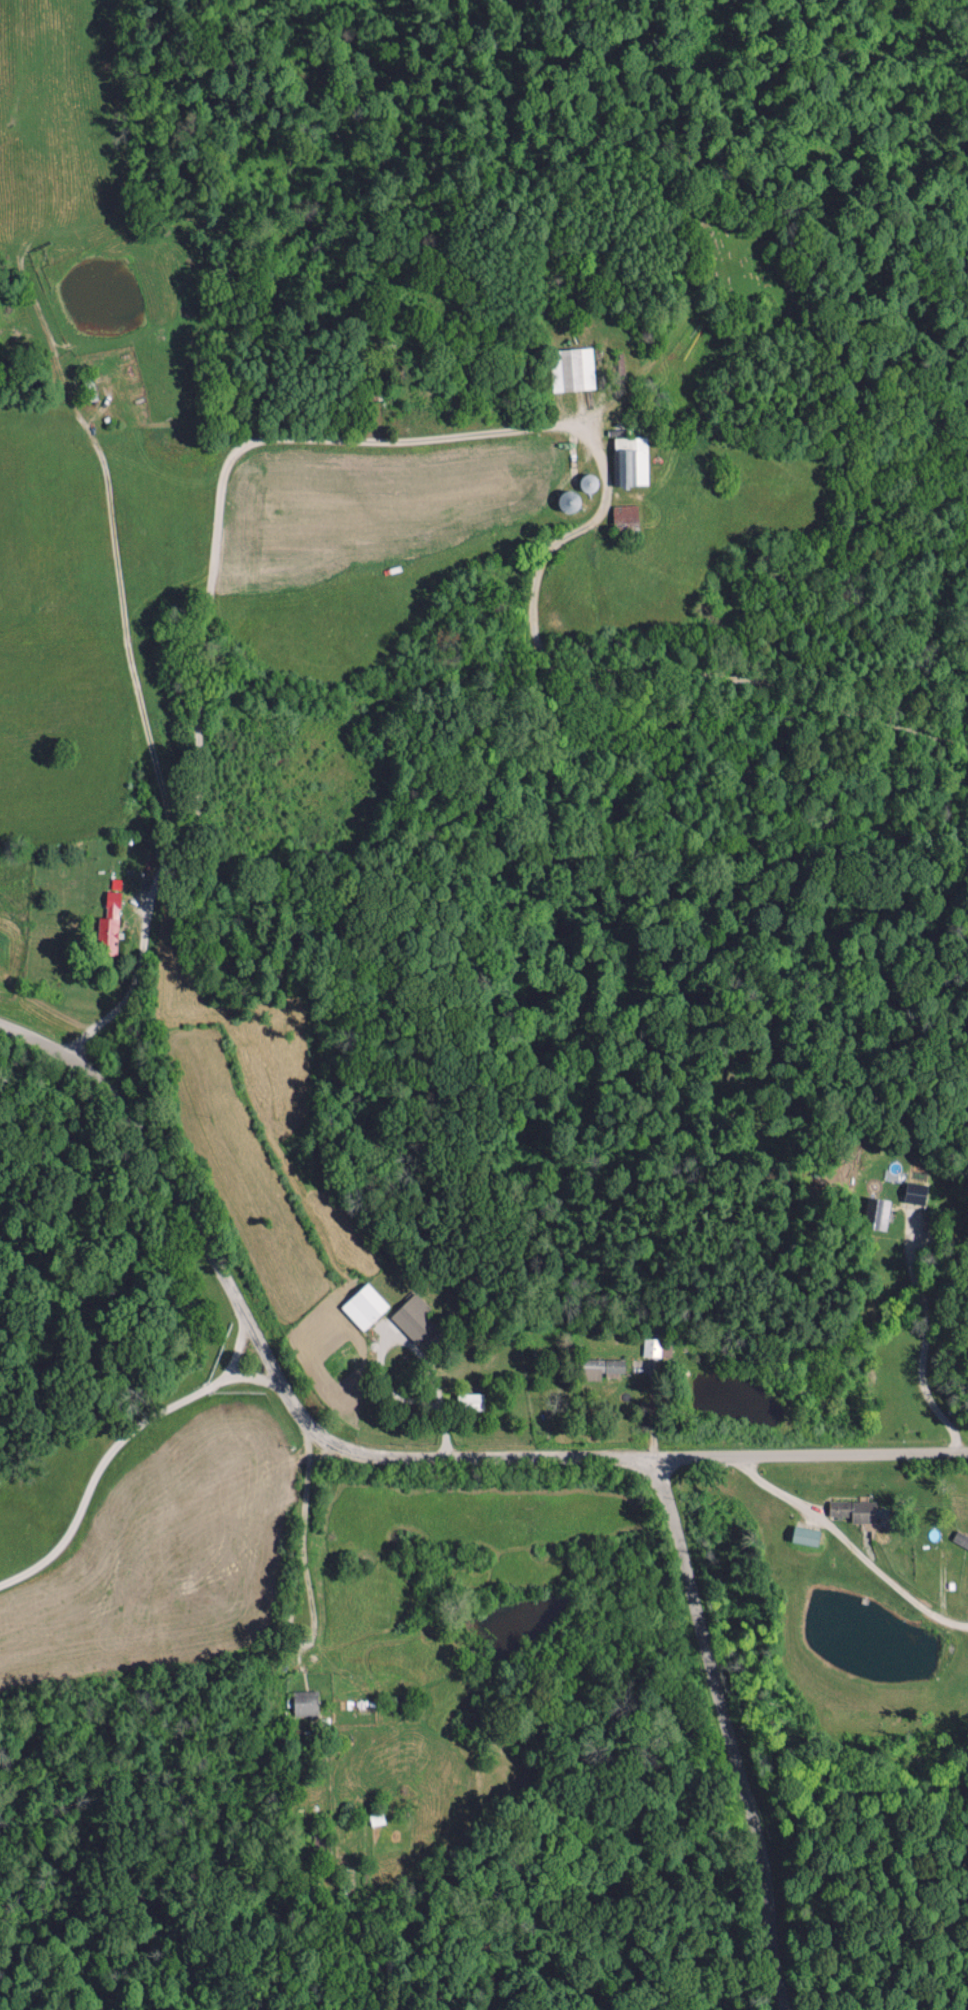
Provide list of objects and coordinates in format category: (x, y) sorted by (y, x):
building: (572, 368)
building: (629, 461)
road: (235, 479)
building: (624, 513)
building: (109, 925)
building: (915, 1193)
building: (880, 1214)
building: (364, 1306)
building: (414, 1319)
road: (411, 1341)
road: (922, 1341)
building: (652, 1347)
building: (602, 1368)
building: (470, 1401)
road: (370, 1455)
building: (855, 1510)
building: (805, 1536)
road: (853, 1546)
road: (309, 1602)
building: (304, 1702)
road: (722, 1734)

